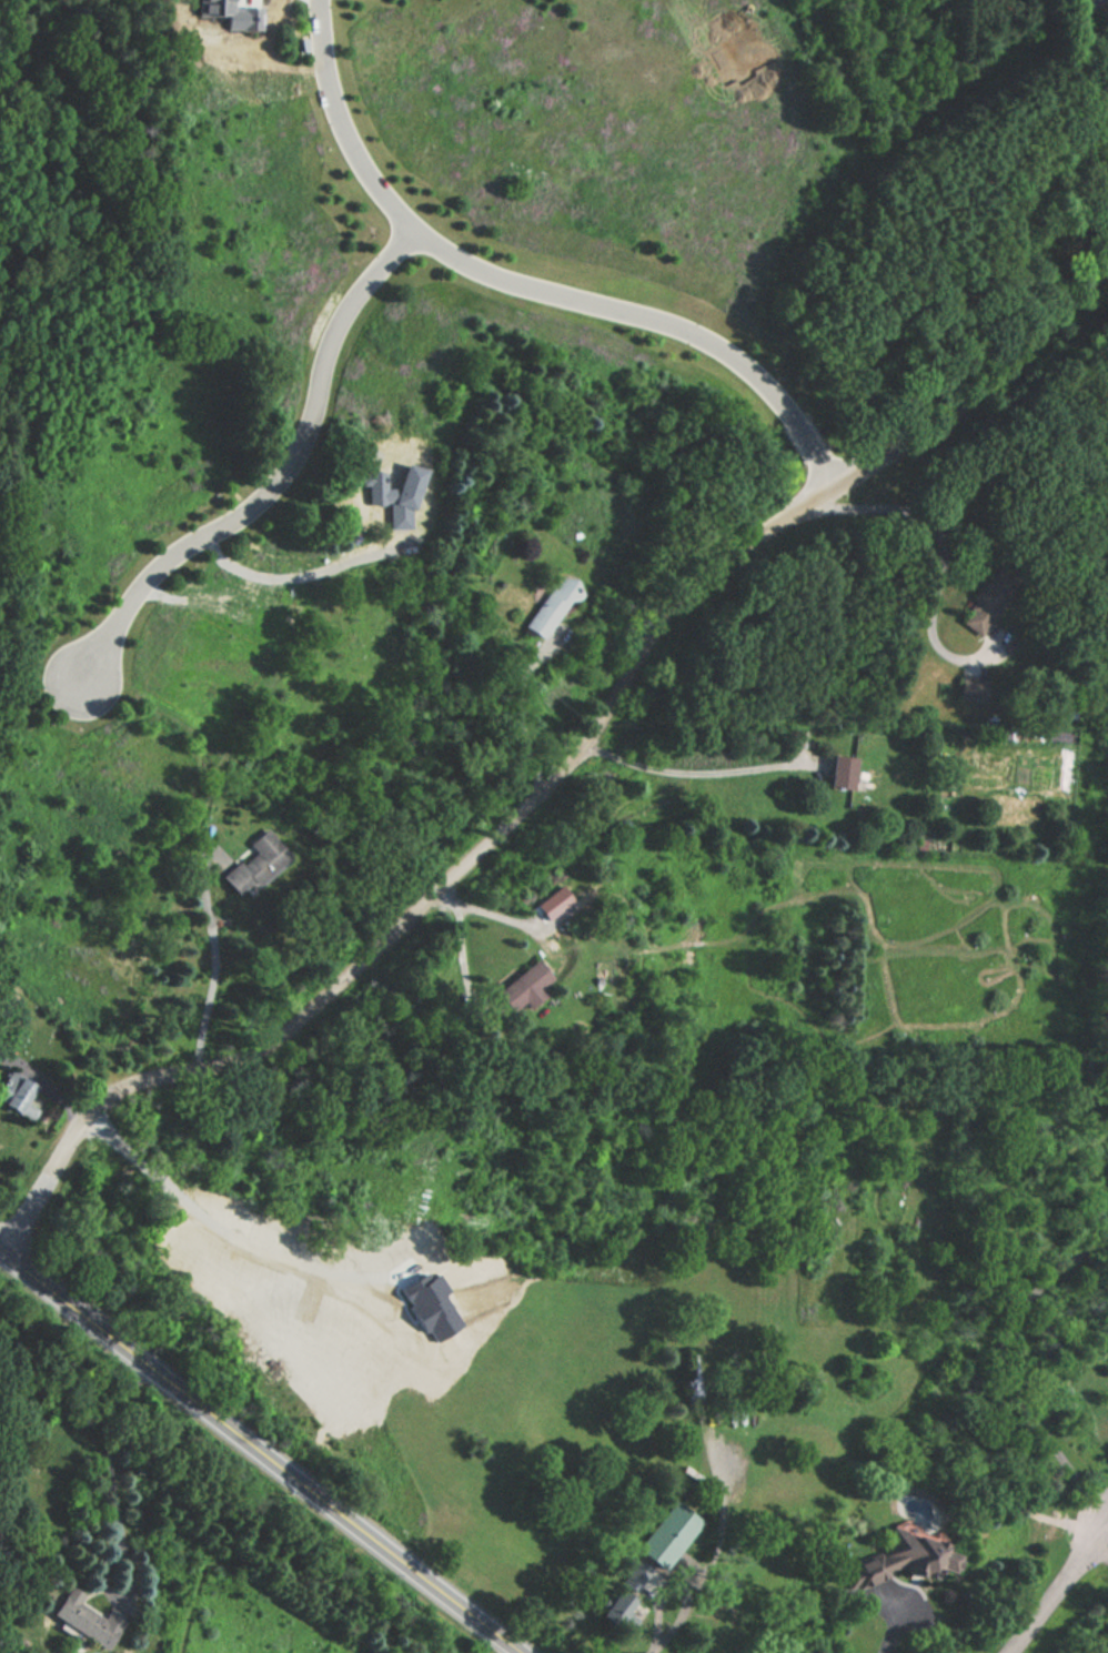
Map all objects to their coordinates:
building: (1085, 6)
building: (234, 16)
road: (531, 286)
road: (275, 476)
road: (938, 566)
road: (293, 572)
road: (214, 591)
building: (990, 597)
building: (554, 602)
building: (973, 689)
building: (64, 692)
road: (518, 710)
building: (840, 767)
road: (566, 768)
road: (701, 774)
building: (262, 859)
building: (556, 906)
road: (462, 951)
road: (211, 959)
building: (94, 981)
building: (526, 982)
road: (47, 1077)
building: (16, 1089)
road: (223, 1221)
road: (1006, 1374)
road: (260, 1451)
road: (117, 1519)
building: (666, 1533)
road: (1099, 1552)
road: (705, 1558)
building: (894, 1559)
building: (635, 1575)
road: (1055, 1590)
building: (615, 1606)
building: (85, 1619)
road: (892, 1631)
road: (517, 1652)

